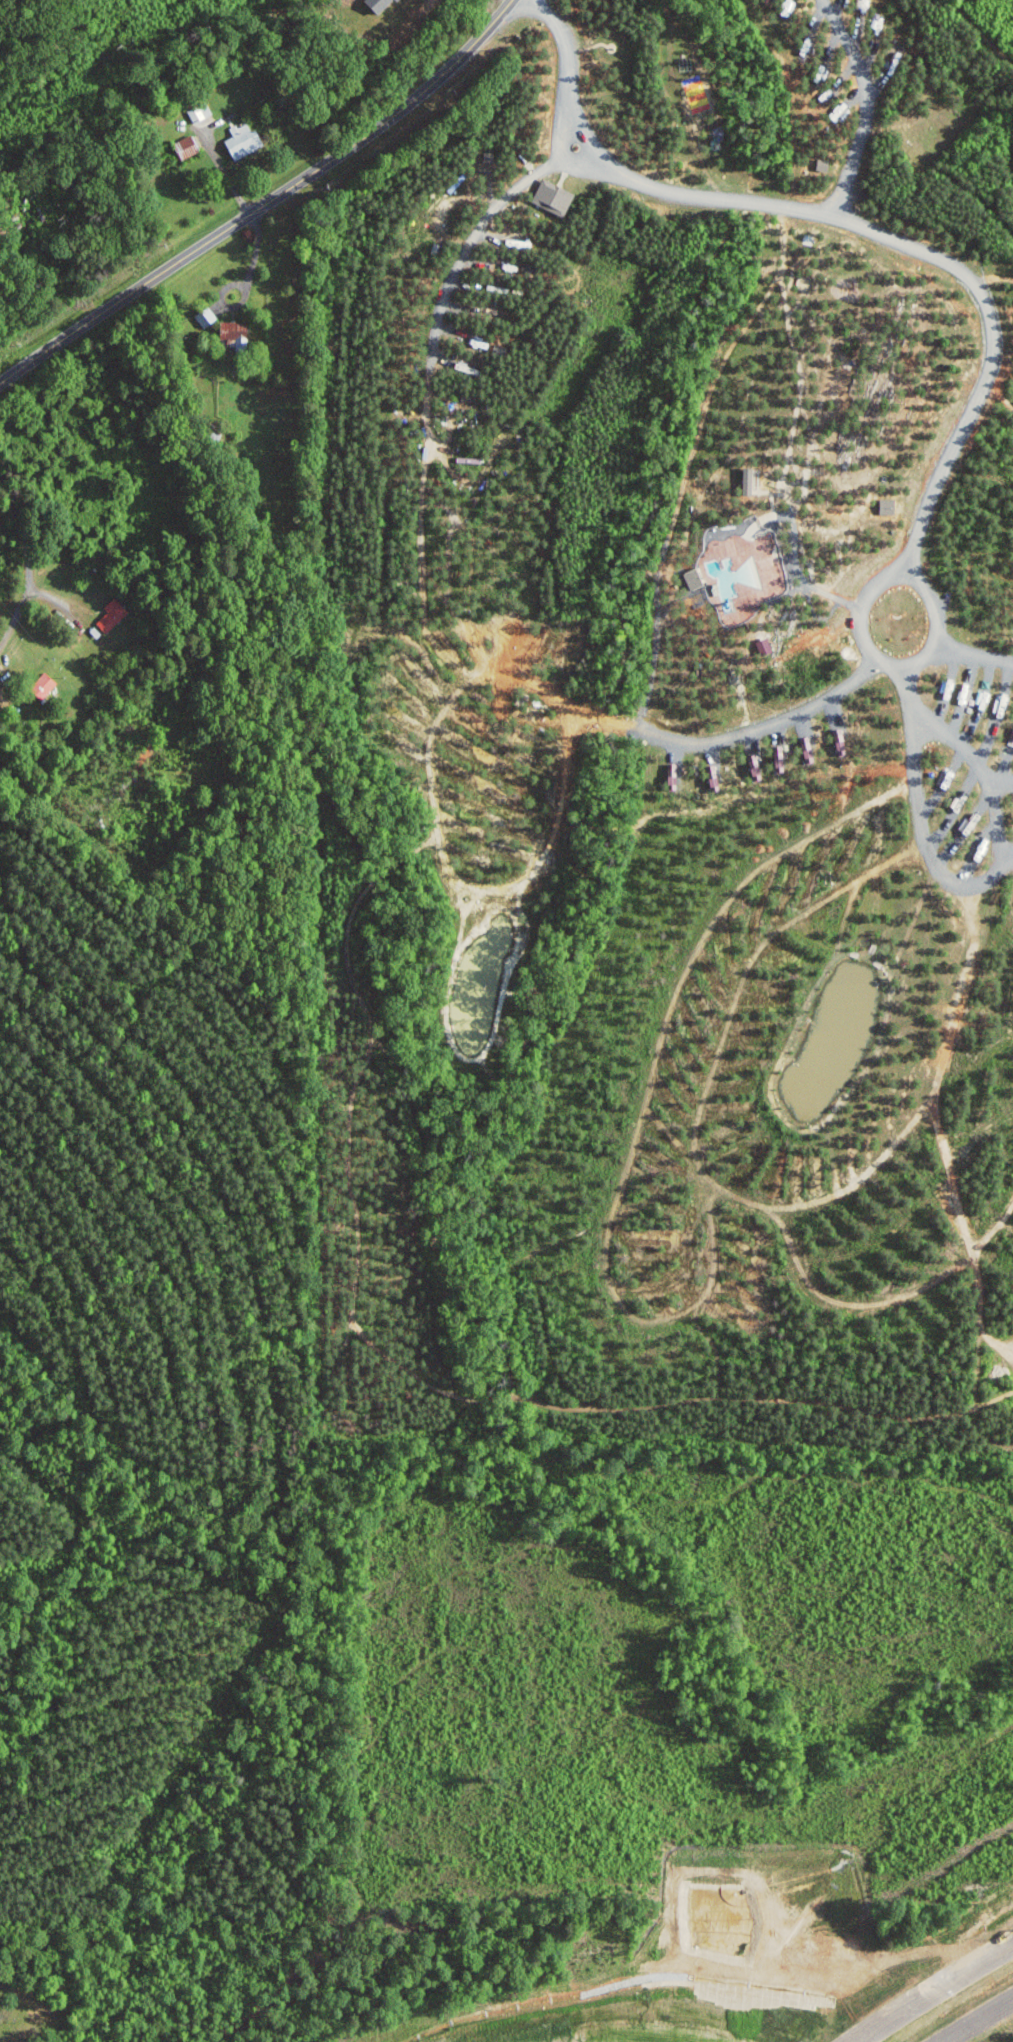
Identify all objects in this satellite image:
road: (508, 1)
building: (381, 4)
road: (4, 20)
road: (9, 20)
road: (863, 106)
building: (199, 112)
building: (245, 140)
building: (187, 147)
road: (219, 164)
building: (555, 197)
road: (266, 203)
road: (456, 264)
road: (246, 290)
road: (986, 313)
building: (207, 317)
building: (235, 332)
road: (789, 445)
building: (748, 480)
building: (889, 506)
road: (34, 563)
building: (694, 578)
building: (112, 614)
building: (45, 684)
road: (913, 732)
building: (1012, 737)
building: (842, 741)
building: (809, 749)
building: (781, 758)
building: (757, 766)
road: (982, 773)
building: (674, 775)
building: (715, 777)
road: (1000, 780)
building: (966, 829)
road: (934, 1992)
road: (975, 2018)

